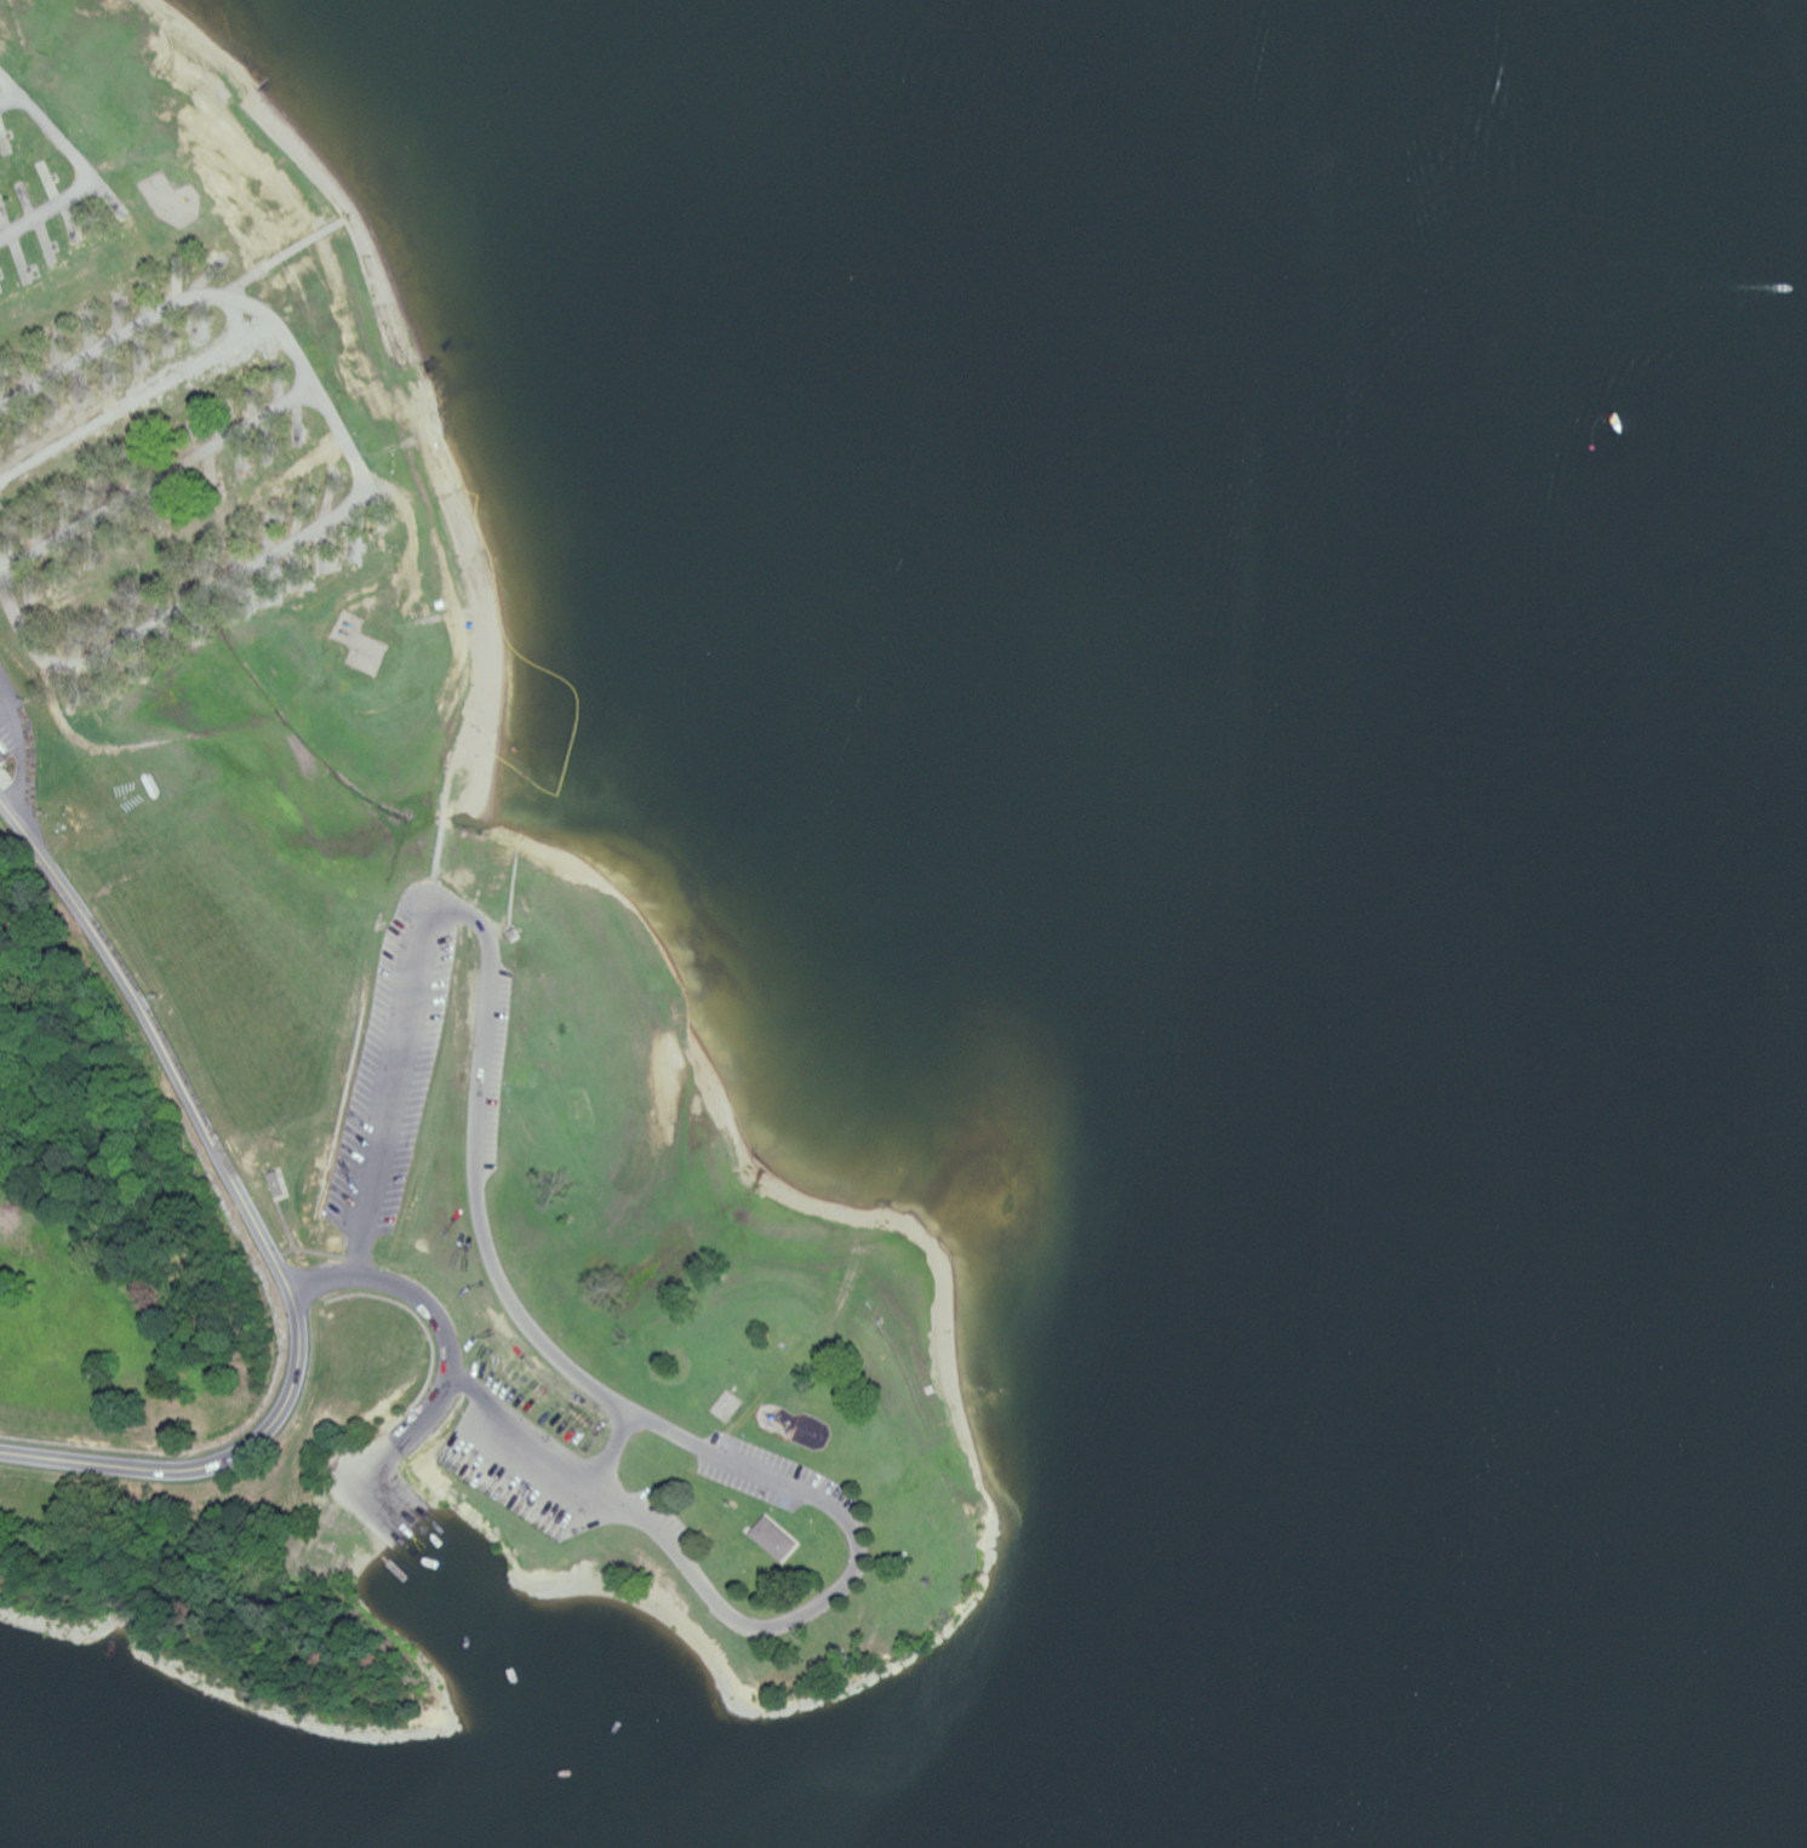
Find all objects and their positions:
road: (12, 101)
road: (84, 160)
road: (137, 400)
road: (360, 458)
road: (160, 474)
road: (187, 531)
road: (27, 743)
building: (5, 753)
road: (17, 808)
road: (52, 849)
park: (366, 1014)
road: (491, 1018)
road: (284, 1276)
road: (417, 1301)
road: (404, 1434)
building: (780, 1538)
road: (765, 1626)

